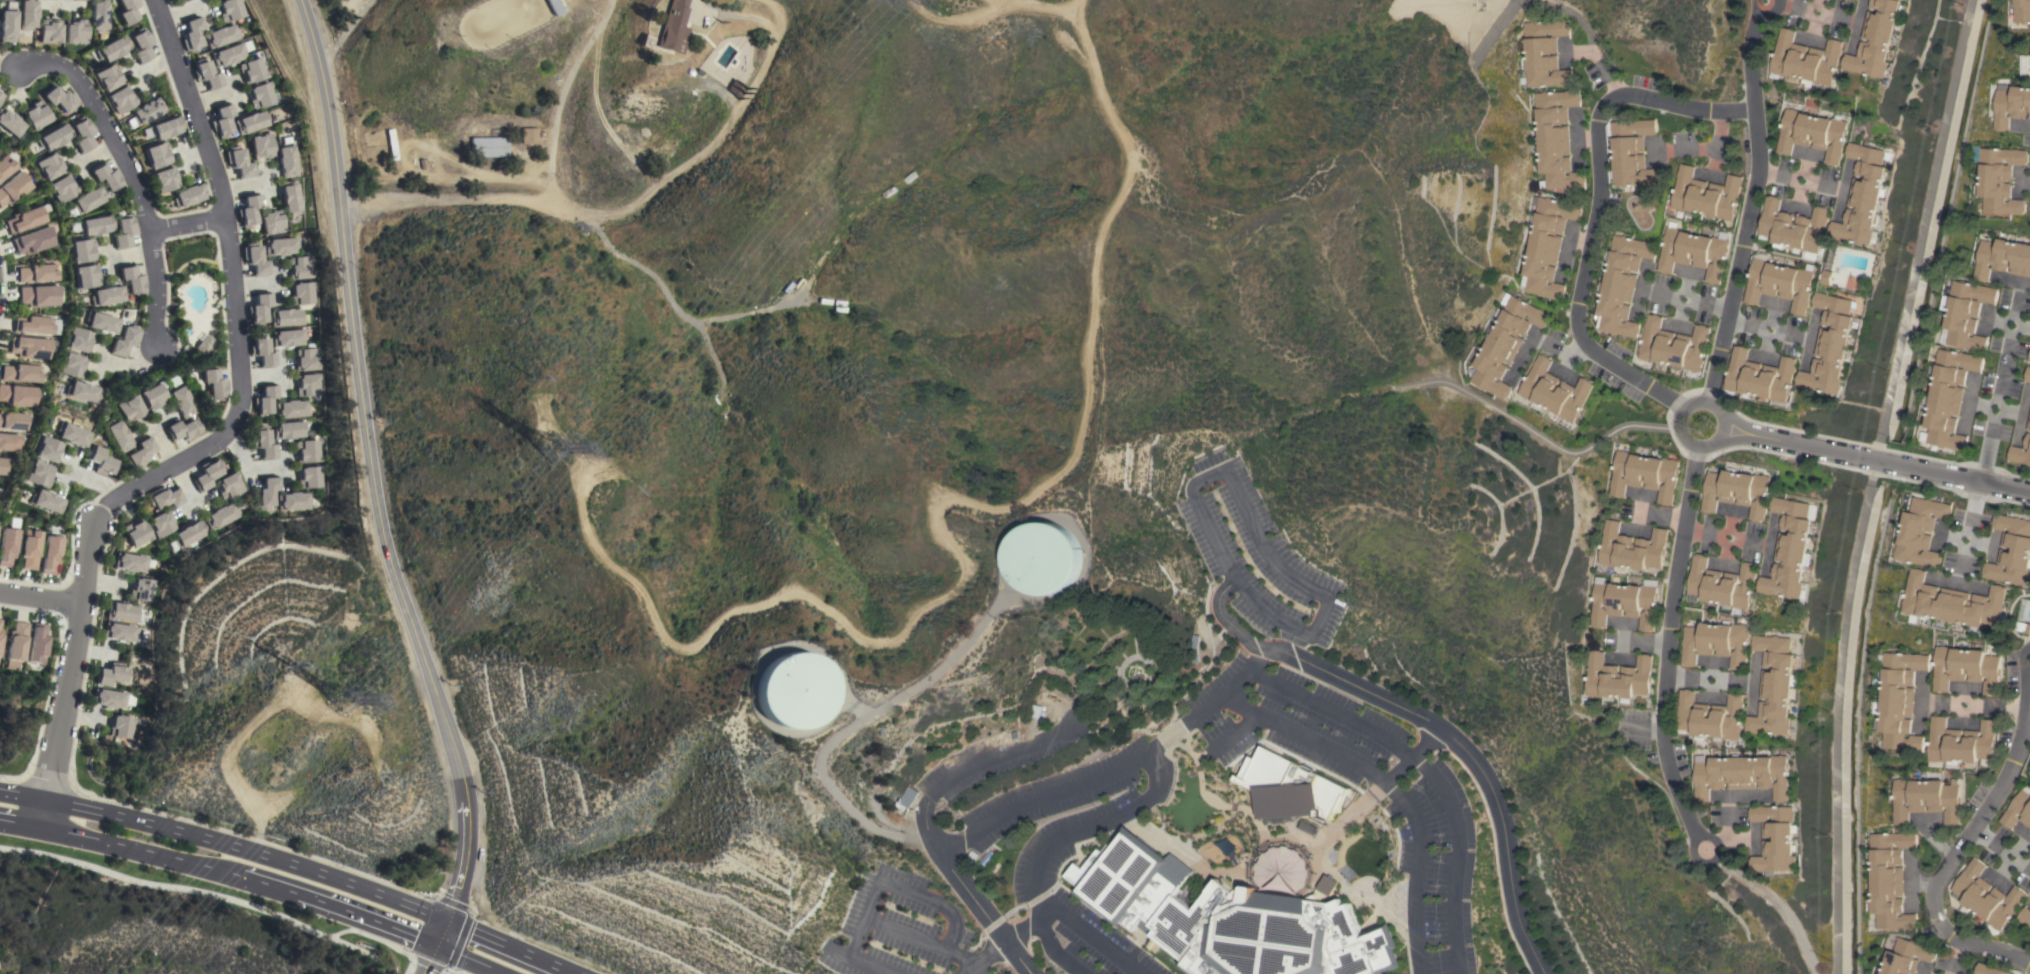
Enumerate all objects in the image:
building: (86, 0)
road: (63, 2)
road: (61, 4)
building: (554, 7)
building: (229, 9)
road: (1809, 9)
road: (181, 10)
building: (2022, 10)
building: (127, 11)
road: (1763, 12)
building: (27, 15)
building: (98, 15)
building: (7, 24)
building: (673, 27)
building: (50, 31)
building: (76, 31)
road: (345, 32)
building: (192, 34)
building: (221, 35)
building: (1877, 39)
building: (141, 46)
building: (112, 48)
building: (1544, 53)
building: (227, 54)
building: (1806, 59)
road: (1604, 66)
road: (11, 67)
road: (157, 67)
building: (251, 70)
road: (136, 75)
building: (207, 75)
building: (108, 77)
building: (736, 87)
building: (260, 95)
building: (1, 96)
road: (212, 97)
road: (560, 97)
building: (60, 99)
building: (121, 99)
building: (2011, 104)
building: (147, 110)
building: (36, 115)
building: (222, 120)
building: (251, 122)
building: (11, 123)
building: (163, 128)
building: (1812, 134)
building: (83, 135)
building: (533, 135)
road: (1576, 136)
road: (1587, 136)
building: (54, 137)
building: (1555, 138)
road: (1716, 138)
building: (392, 144)
building: (261, 146)
building: (490, 147)
road: (1683, 150)
road: (197, 151)
building: (1631, 152)
building: (157, 154)
road: (99, 156)
building: (286, 160)
building: (239, 163)
building: (5, 166)
building: (50, 166)
road: (82, 166)
building: (106, 176)
building: (165, 179)
road: (1801, 179)
building: (1999, 179)
road: (266, 184)
road: (244, 186)
building: (13, 188)
building: (63, 188)
building: (1705, 194)
building: (1864, 194)
building: (189, 195)
building: (290, 197)
building: (89, 199)
road: (1597, 207)
road: (146, 208)
road: (1754, 209)
building: (248, 211)
road: (622, 211)
building: (25, 219)
building: (271, 221)
road: (192, 223)
building: (95, 225)
building: (1793, 227)
building: (123, 231)
road: (1579, 238)
building: (32, 241)
building: (281, 246)
building: (1545, 246)
building: (83, 250)
road: (1564, 252)
building: (1694, 252)
road: (134, 254)
road: (112, 258)
building: (2003, 258)
building: (255, 260)
building: (299, 268)
building: (37, 273)
building: (87, 276)
building: (1828, 277)
building: (132, 280)
road: (276, 280)
building: (1781, 282)
road: (256, 284)
building: (1620, 284)
building: (302, 293)
building: (39, 295)
building: (107, 295)
road: (237, 299)
road: (1691, 300)
building: (258, 308)
building: (1965, 314)
building: (286, 317)
building: (102, 323)
building: (37, 325)
road: (1765, 328)
building: (288, 337)
building: (79, 340)
building: (125, 340)
building: (1504, 342)
building: (1832, 344)
building: (204, 345)
road: (1553, 345)
building: (1673, 345)
building: (29, 347)
road: (1578, 348)
building: (262, 352)
road: (1522, 355)
building: (2029, 357)
building: (308, 358)
road: (101, 359)
building: (72, 365)
road: (283, 368)
road: (263, 372)
building: (21, 373)
building: (2027, 375)
building: (1760, 376)
building: (214, 383)
building: (310, 386)
building: (1553, 390)
building: (82, 391)
building: (17, 395)
building: (151, 397)
building: (1947, 397)
building: (266, 400)
building: (179, 401)
building: (128, 409)
building: (294, 409)
road: (1679, 419)
building: (13, 420)
road: (160, 423)
building: (2029, 423)
building: (291, 429)
building: (182, 430)
road: (1993, 433)
building: (71, 434)
building: (118, 437)
building: (12, 442)
building: (265, 444)
power tower: (544, 447)
building: (47, 449)
building: (310, 450)
building: (2021, 452)
building: (139, 454)
building: (100, 461)
road: (1875, 462)
road: (179, 463)
building: (3, 465)
road: (285, 466)
road: (372, 466)
road: (249, 468)
building: (38, 474)
building: (208, 474)
building: (1644, 474)
building: (312, 477)
road: (92, 480)
building: (230, 486)
building: (1737, 492)
building: (269, 493)
building: (165, 497)
building: (46, 501)
building: (296, 501)
road: (199, 503)
building: (224, 515)
road: (1654, 517)
building: (162, 523)
road: (1250, 524)
building: (1920, 532)
building: (137, 533)
road: (1703, 533)
building: (191, 536)
road: (1723, 536)
road: (1748, 541)
building: (7, 546)
building: (1631, 548)
building: (1791, 548)
building: (29, 549)
building: (2011, 551)
building: (50, 554)
building: (1044, 557)
building: (131, 562)
road: (104, 582)
building: (1721, 585)
building: (142, 589)
road: (40, 598)
building: (1625, 602)
building: (1952, 602)
building: (123, 612)
building: (0, 621)
building: (2022, 626)
building: (120, 632)
building: (1, 634)
building: (38, 643)
building: (1716, 643)
road: (1643, 644)
road: (1669, 644)
building: (16, 645)
building: (1193, 648)
building: (1965, 667)
building: (112, 675)
building: (1617, 677)
road: (1702, 680)
road: (65, 681)
building: (1776, 685)
building: (796, 690)
building: (108, 698)
building: (1901, 699)
power tower: (333, 704)
road: (1992, 704)
building: (1038, 713)
building: (1710, 717)
building: (120, 726)
road: (849, 729)
road: (1449, 737)
building: (1961, 744)
road: (976, 764)
road: (1119, 769)
building: (1260, 769)
road: (1432, 772)
building: (1743, 775)
road: (23, 779)
road: (1379, 788)
building: (1298, 793)
building: (906, 797)
building: (1926, 799)
road: (1406, 805)
building: (2019, 809)
road: (1098, 823)
road: (19, 825)
road: (242, 835)
road: (1697, 837)
building: (1774, 838)
road: (1939, 841)
road: (1995, 843)
road: (226, 845)
road: (140, 849)
building: (1362, 857)
building: (986, 858)
road: (1950, 858)
building: (1279, 869)
building: (1890, 880)
road: (1925, 881)
road: (886, 883)
road: (270, 886)
road: (167, 887)
building: (1986, 897)
road: (1778, 905)
road: (985, 911)
building: (2025, 916)
building: (1229, 918)
road: (367, 920)
traffic signals: (446, 923)
road: (1025, 930)
road: (902, 933)
road: (1093, 933)
road: (441, 934)
road: (380, 941)
road: (457, 941)
traffic signals: (436, 946)
road: (508, 948)
road: (360, 951)
road: (986, 956)
building: (1907, 957)
road: (1953, 958)
road: (429, 960)
road: (466, 960)
building: (1989, 969)
road: (967, 971)

